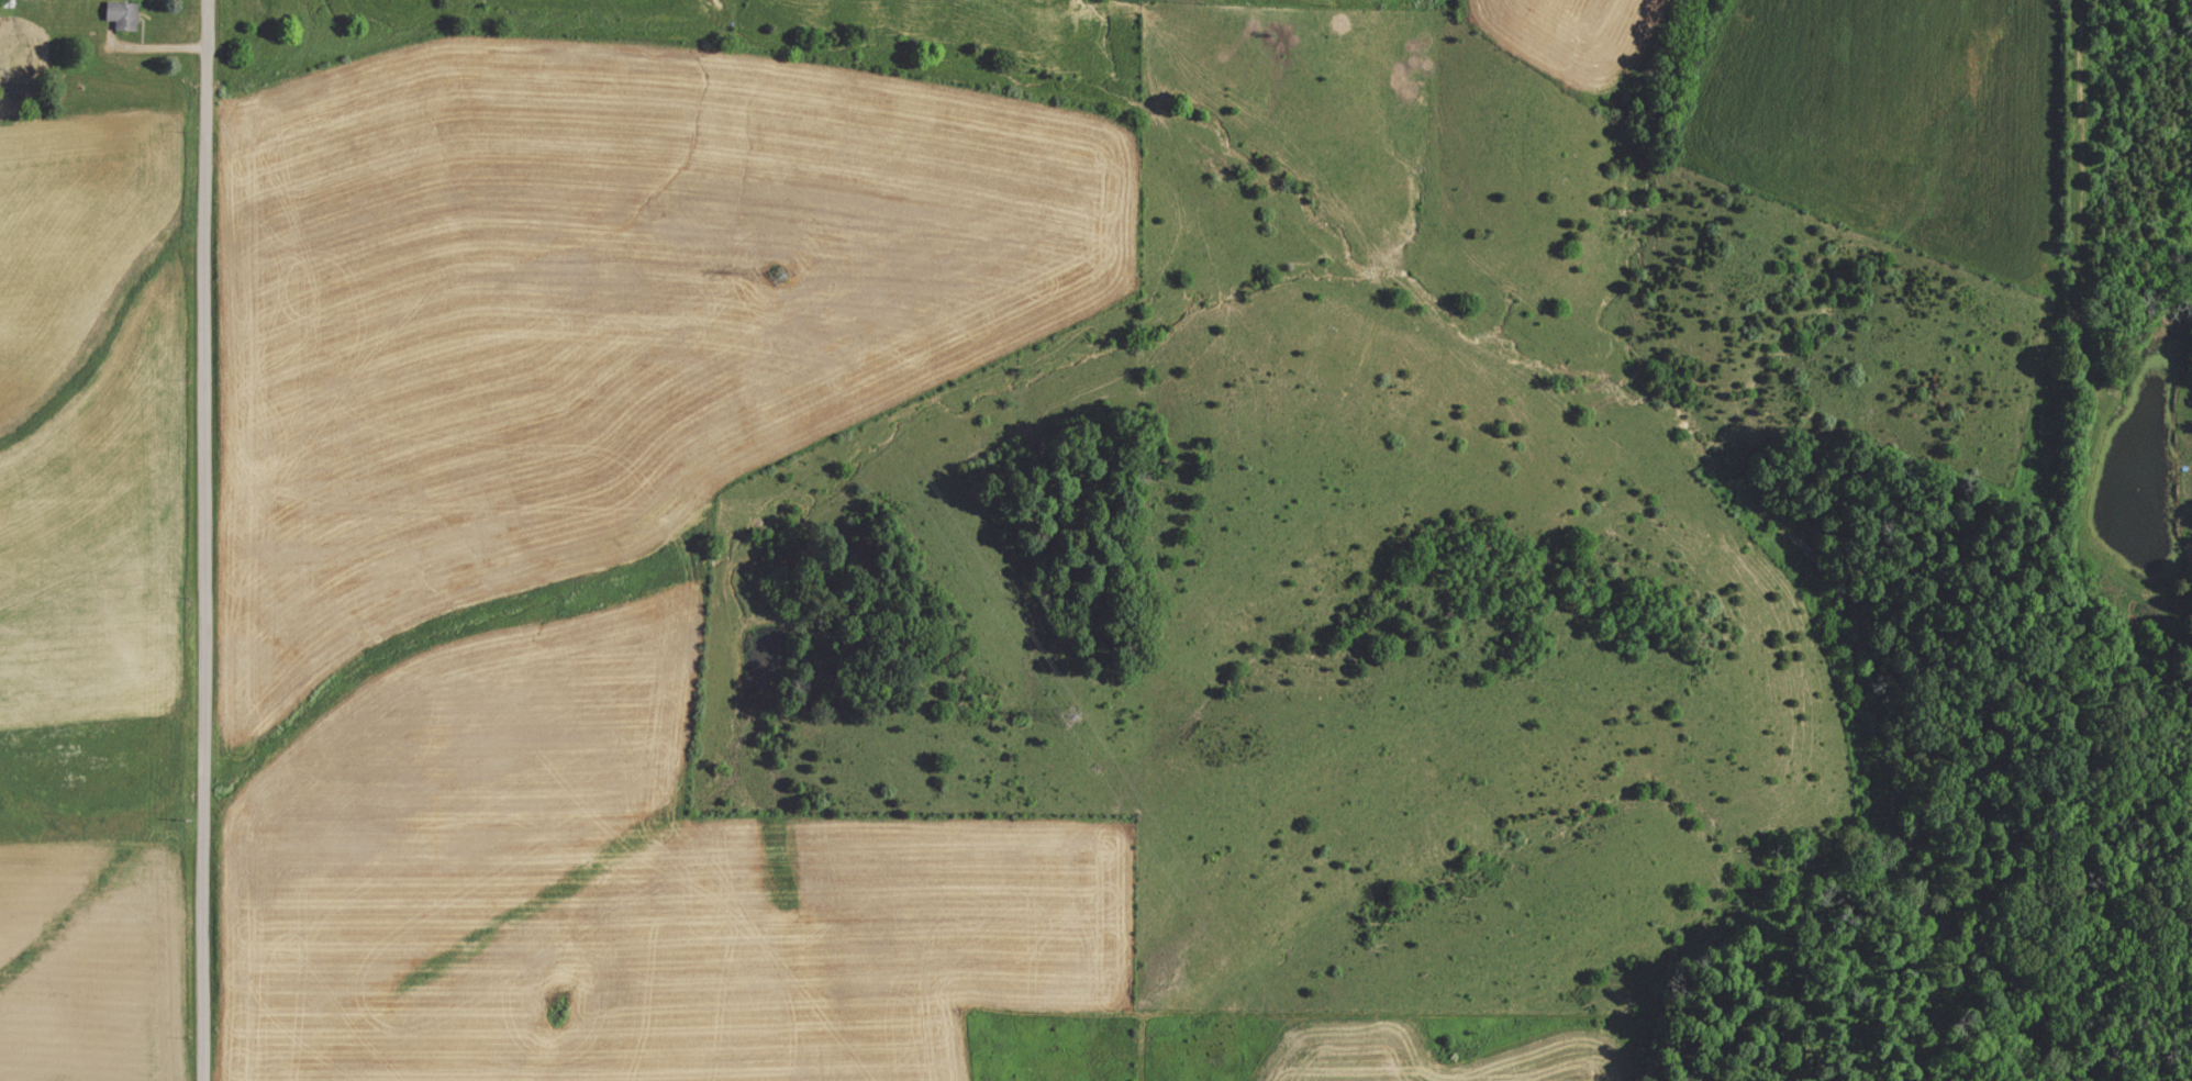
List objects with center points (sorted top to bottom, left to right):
building: (129, 14)
road: (146, 46)
power tower: (774, 275)
road: (205, 539)
power tower: (1061, 712)

